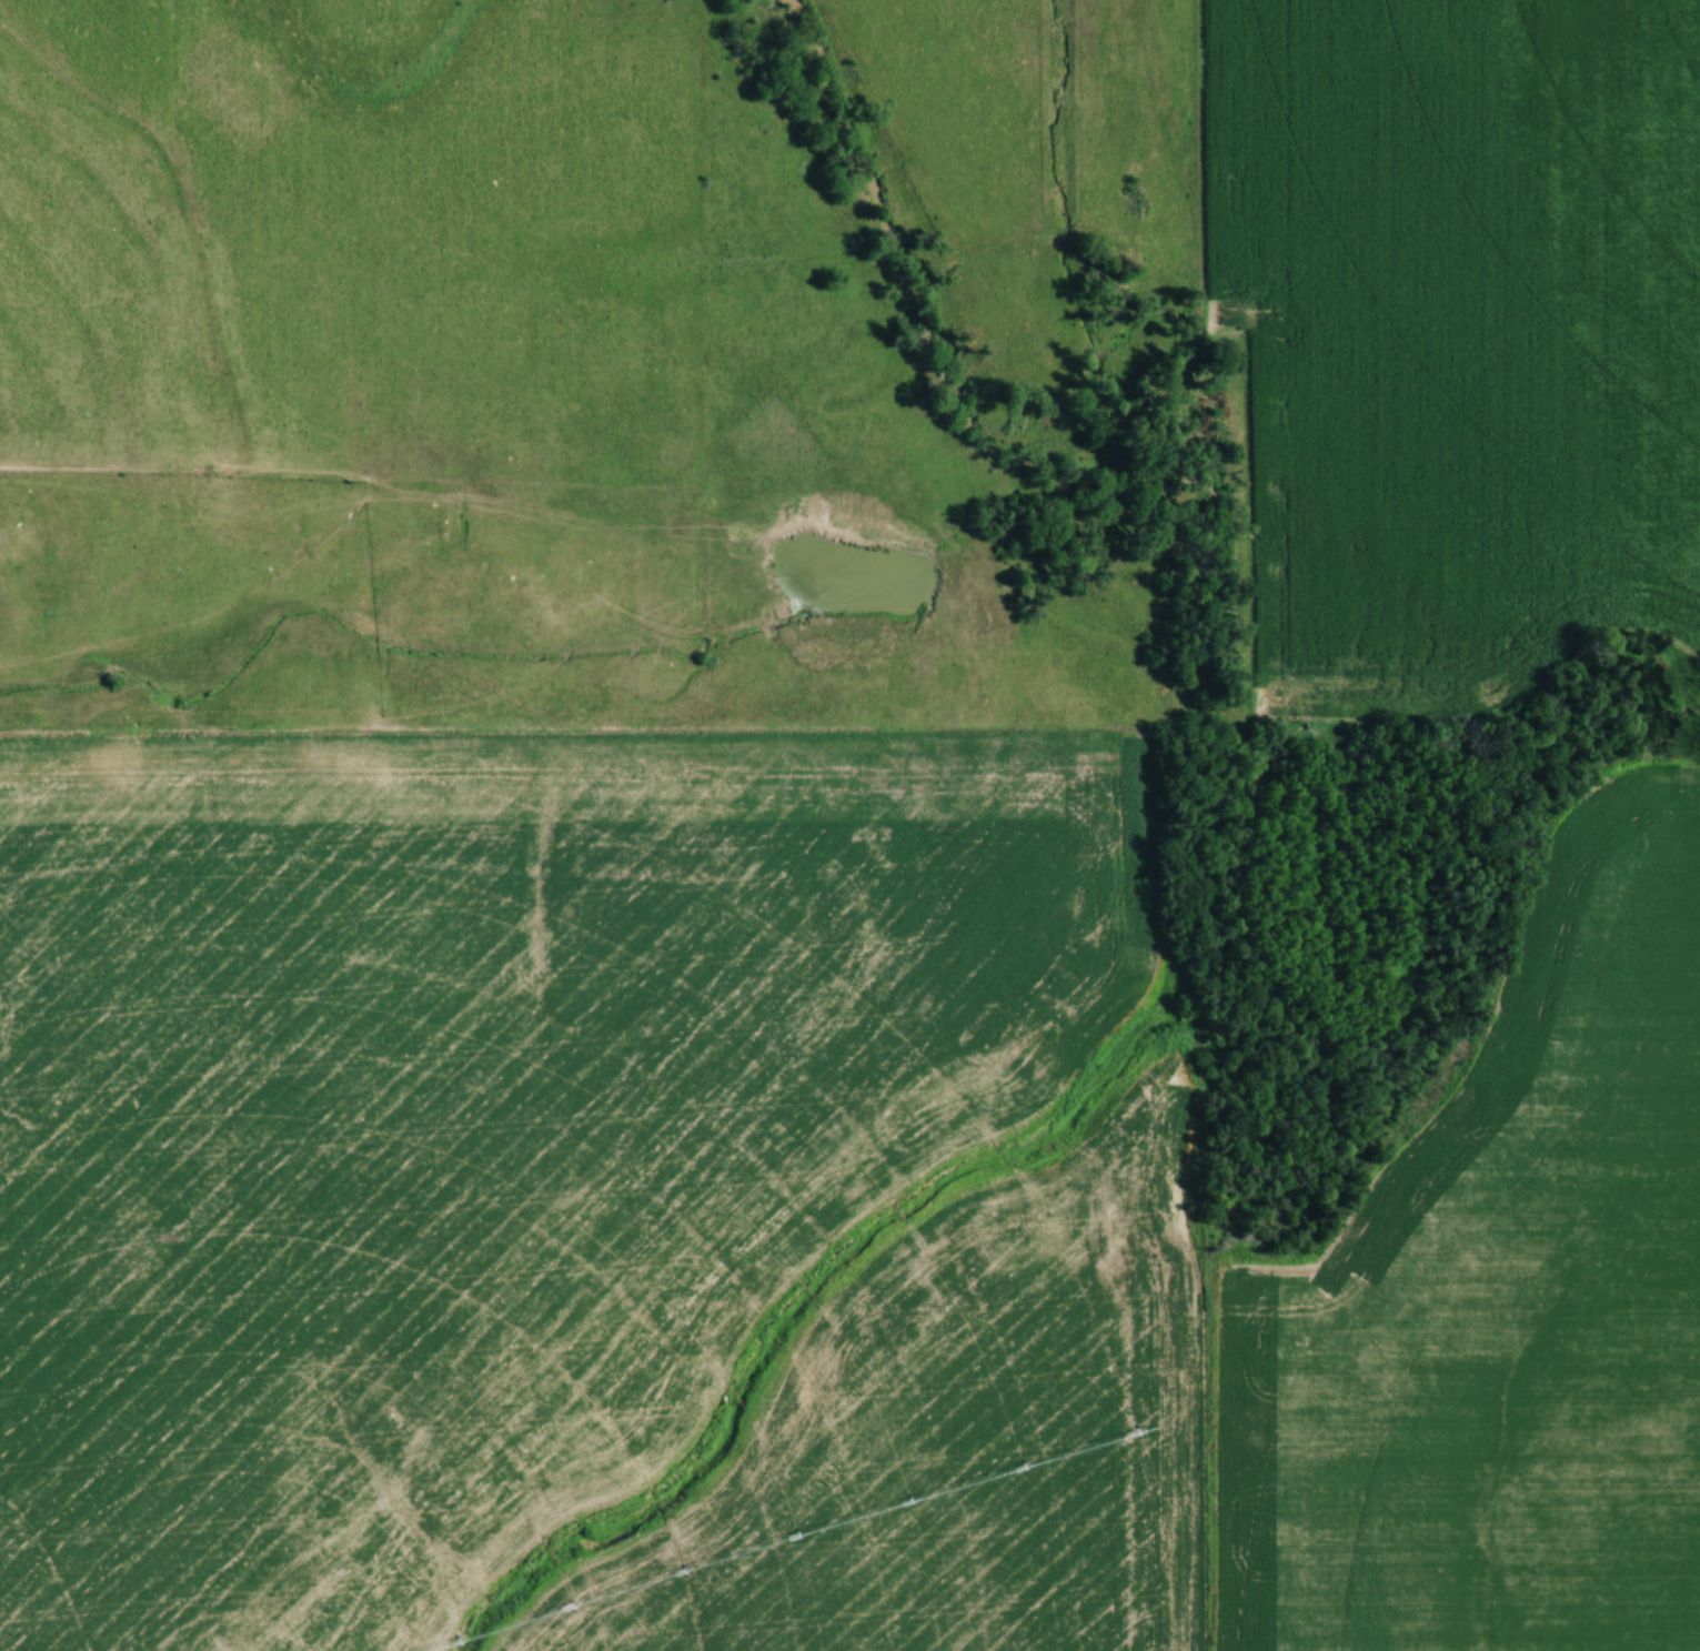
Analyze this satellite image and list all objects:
crop: (1465, 340)

